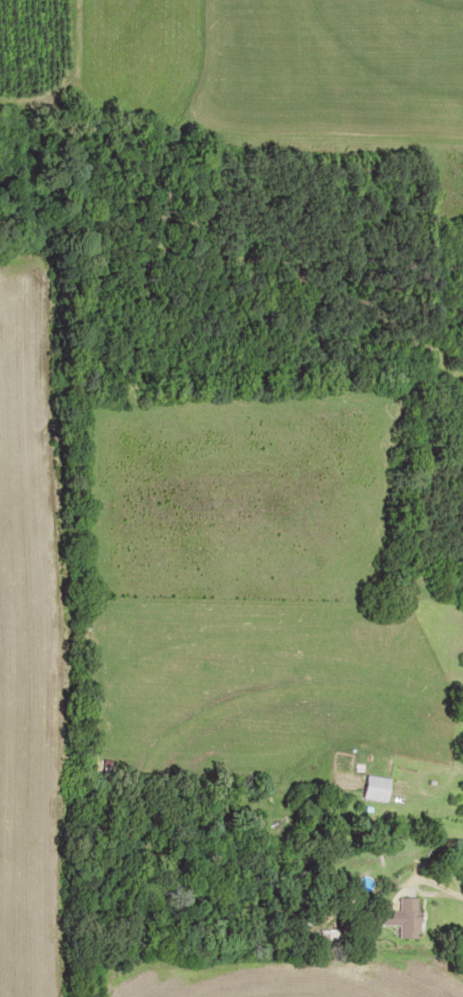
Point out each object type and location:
building: (376, 787)
building: (409, 916)

